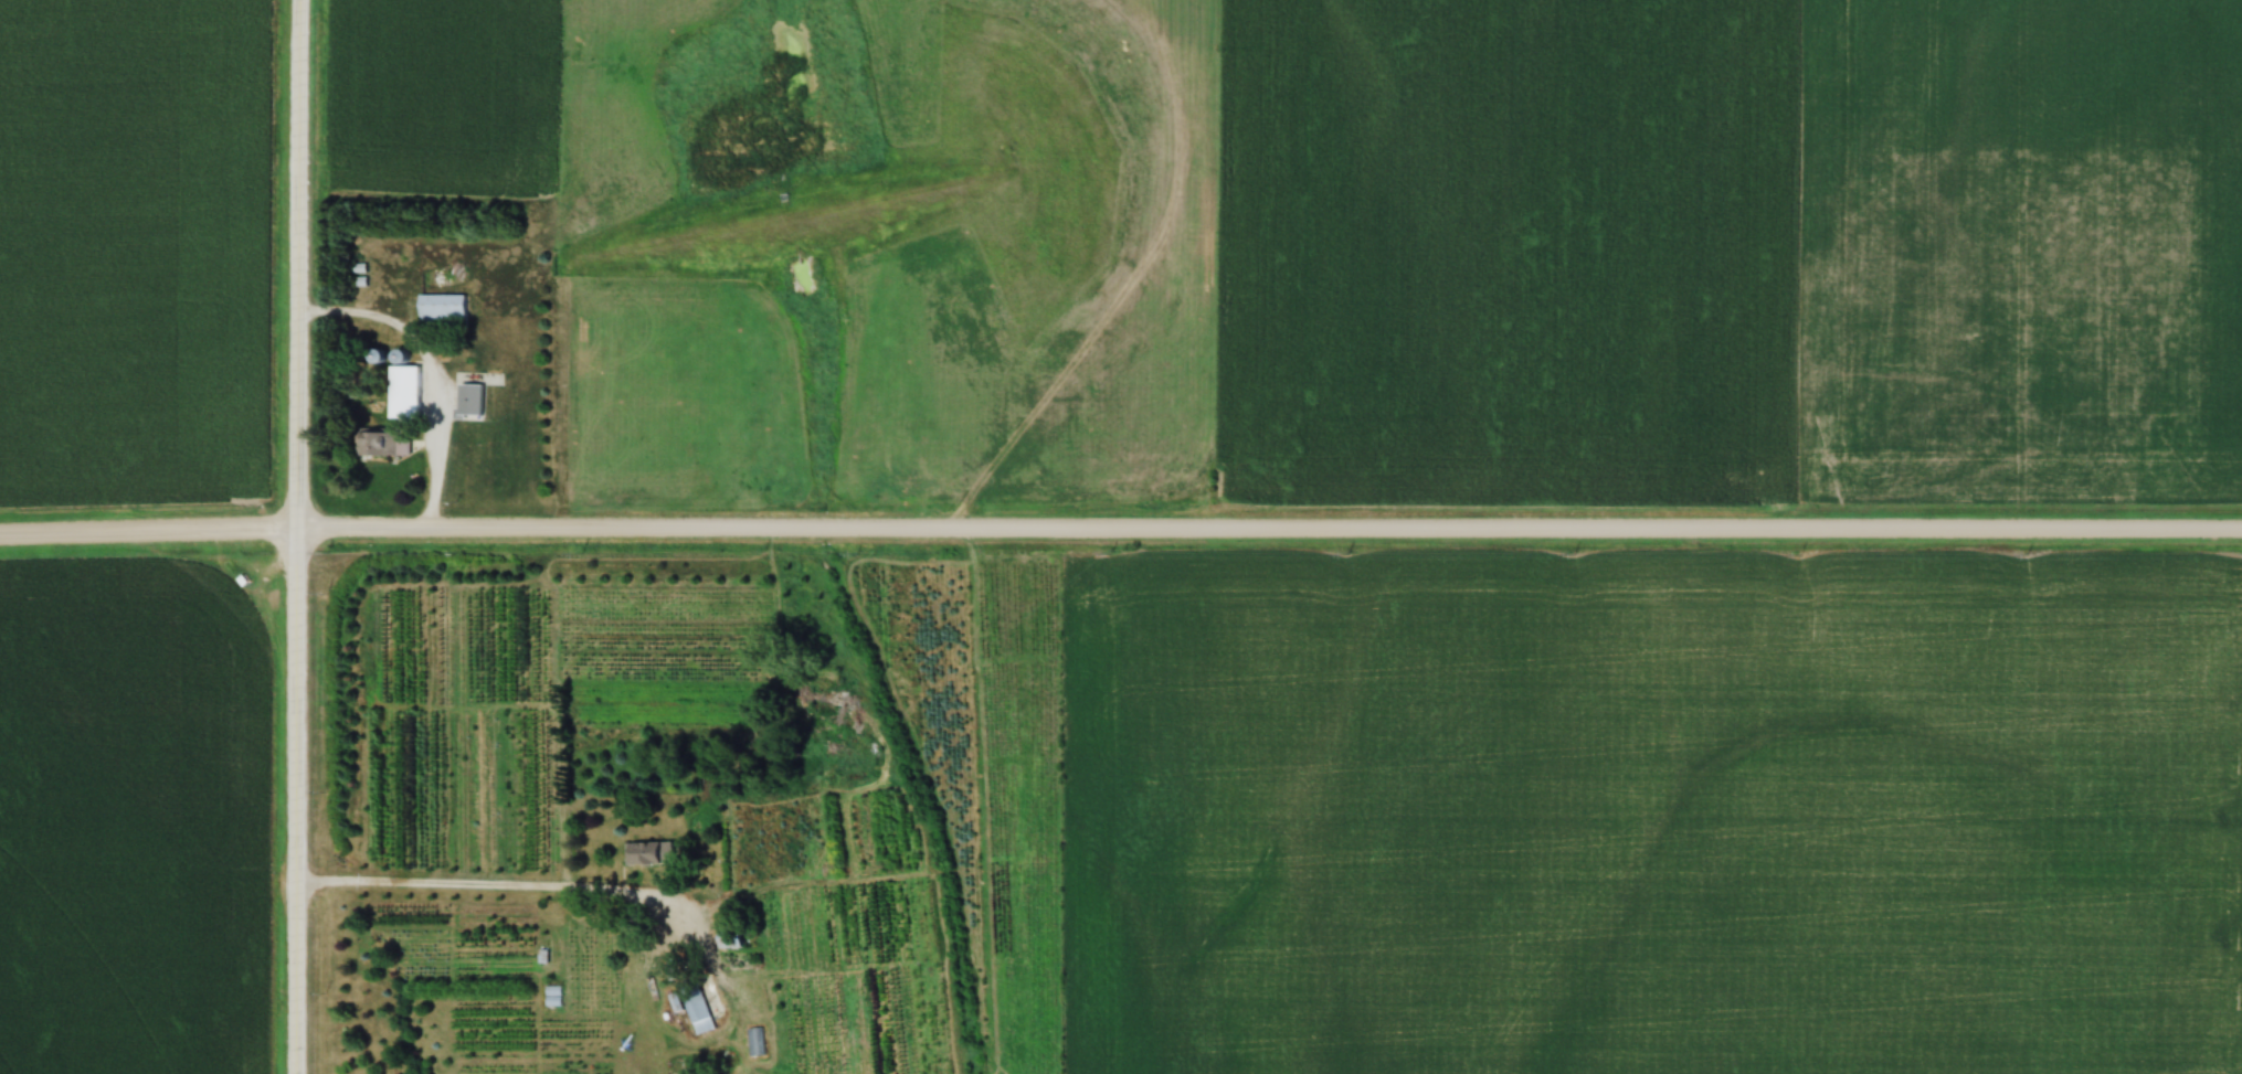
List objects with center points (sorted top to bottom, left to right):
crop: (131, 252)
building: (446, 308)
road: (429, 376)
building: (411, 391)
building: (476, 397)
building: (383, 442)
road: (1120, 532)
road: (297, 536)
building: (653, 852)
road: (511, 889)
building: (744, 937)
building: (697, 991)

